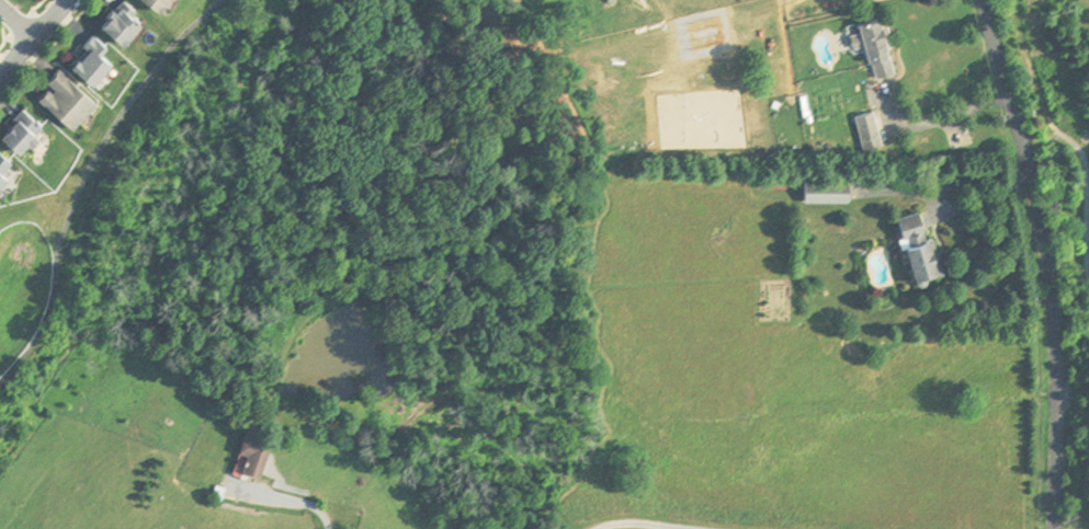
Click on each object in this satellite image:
building: (157, 1)
building: (170, 3)
building: (120, 18)
building: (134, 22)
road: (15, 24)
road: (34, 37)
building: (886, 45)
building: (94, 55)
park: (1074, 55)
building: (67, 92)
road: (944, 117)
building: (22, 125)
building: (877, 129)
building: (4, 160)
road: (82, 177)
road: (953, 192)
building: (931, 246)
road: (1046, 262)
building: (265, 453)
road: (313, 506)
road: (655, 522)

